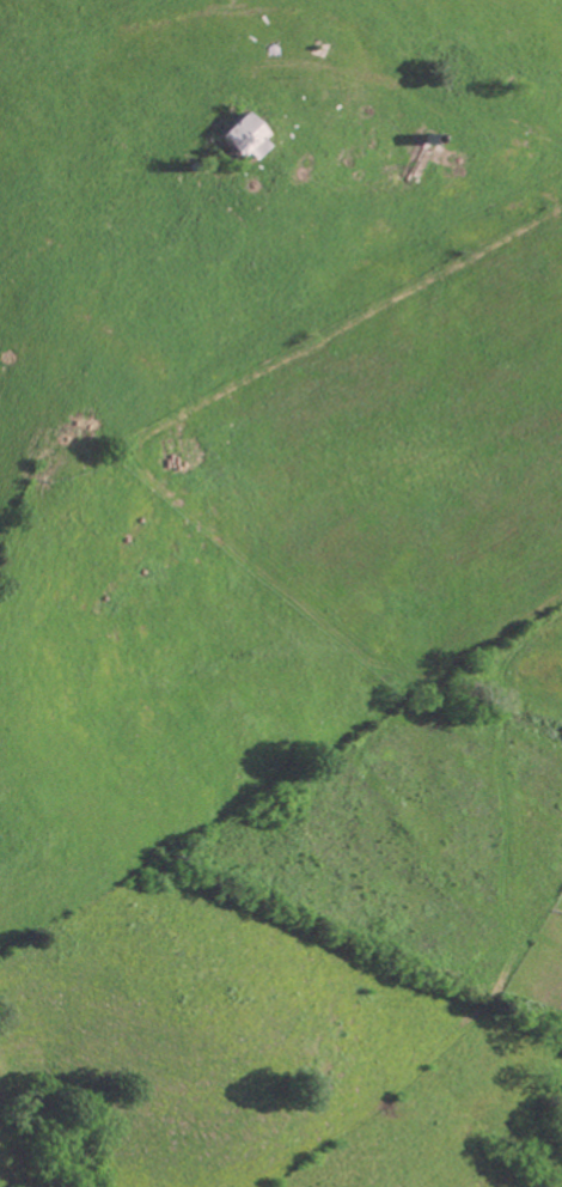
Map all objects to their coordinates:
building: (237, 135)

